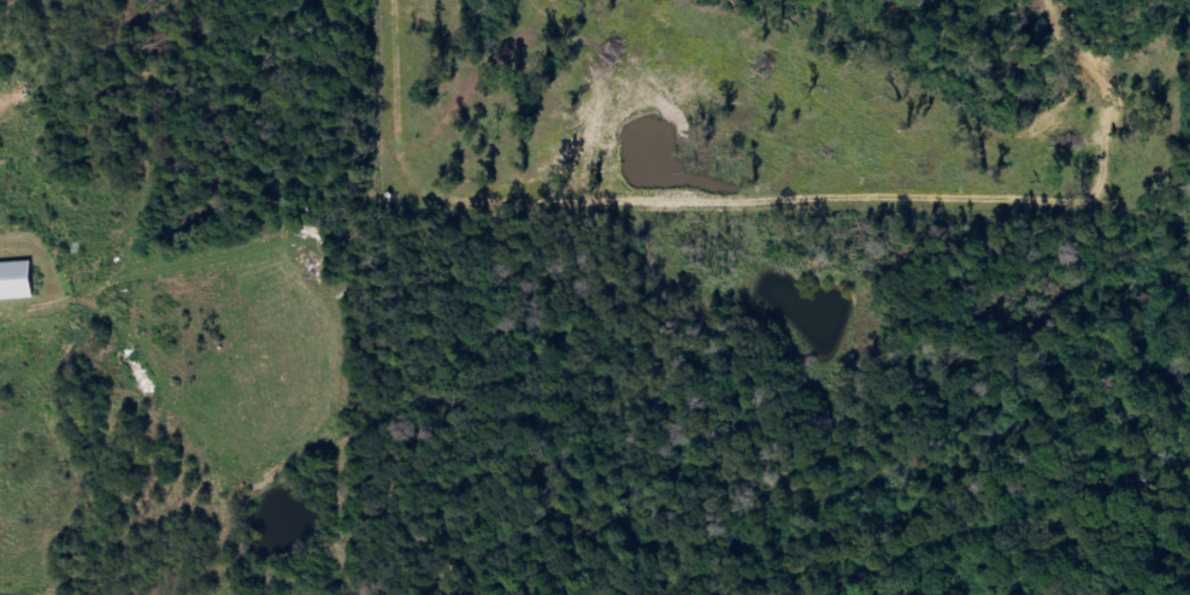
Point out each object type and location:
building: (19, 281)

